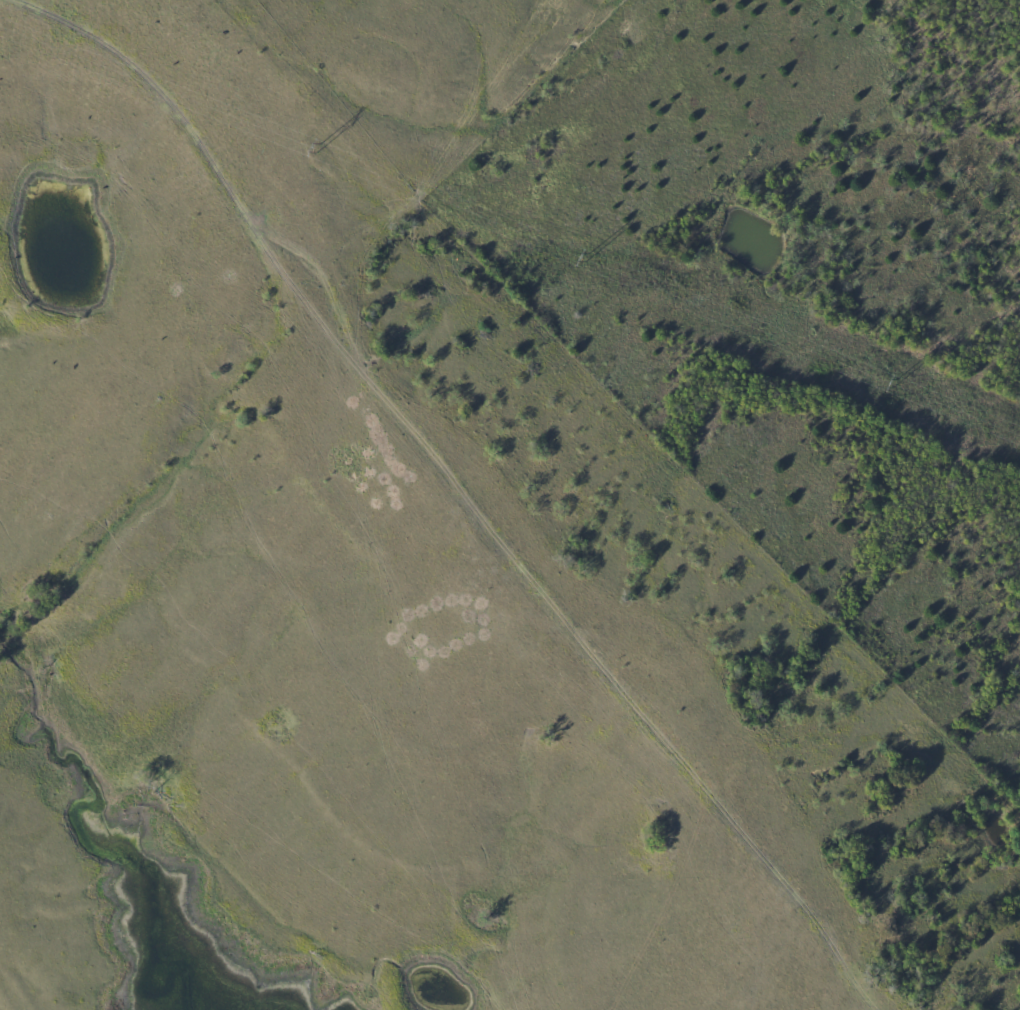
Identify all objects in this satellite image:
power tower: (322, 146)
power tower: (589, 260)
power tower: (889, 386)

